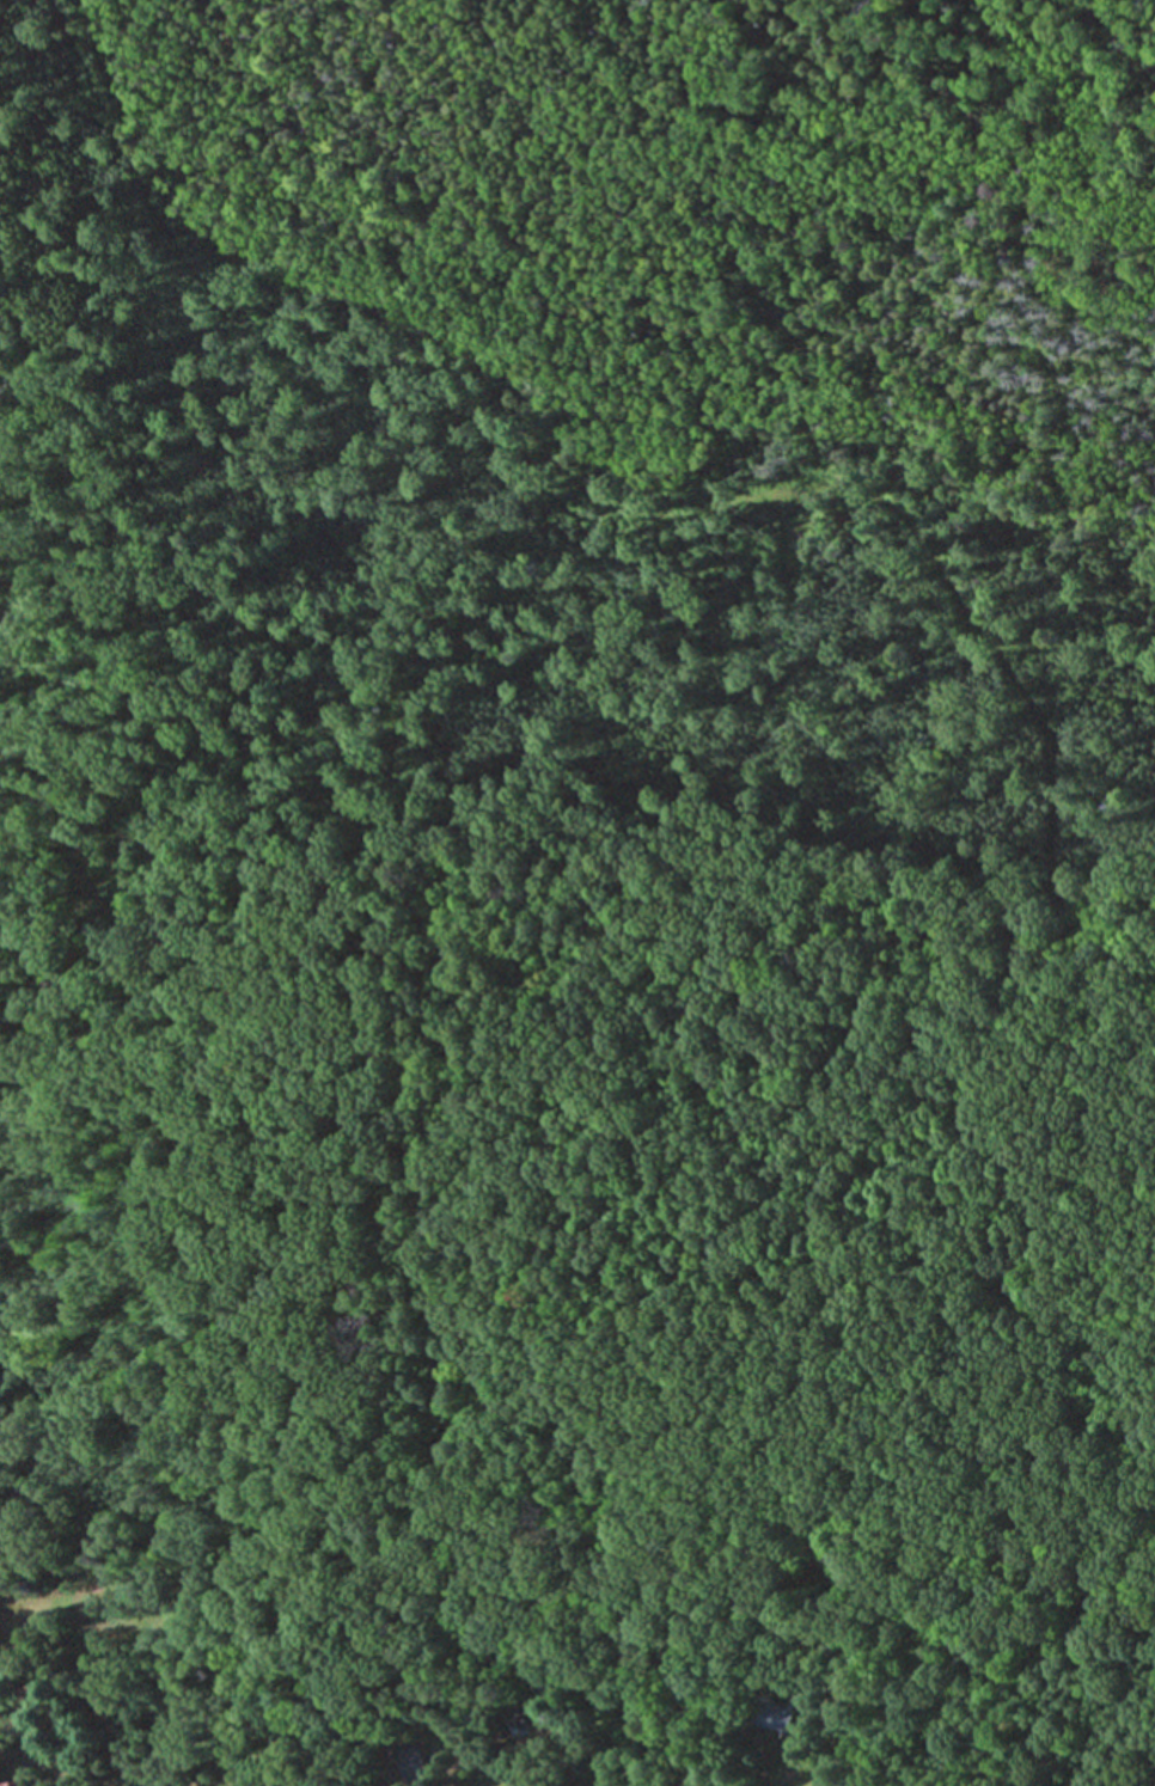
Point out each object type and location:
building: (12, 1784)

